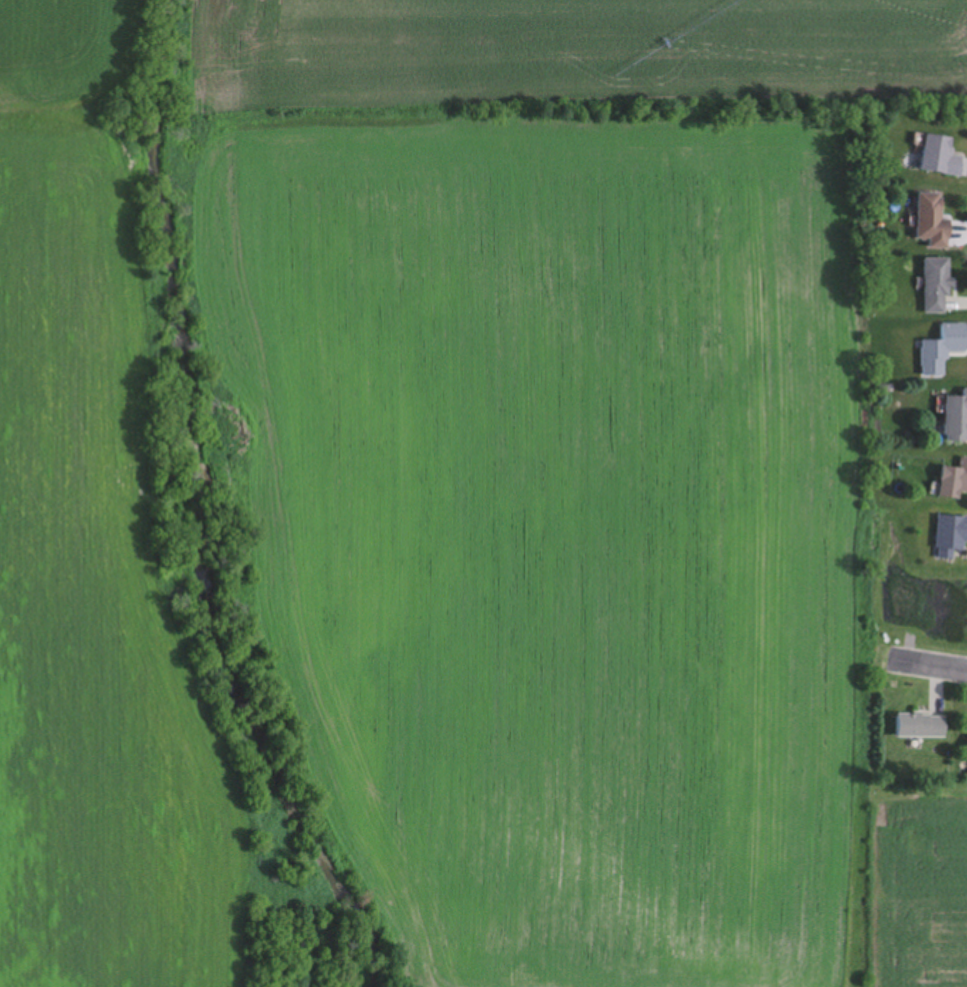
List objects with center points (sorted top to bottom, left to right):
building: (943, 156)
building: (935, 220)
building: (938, 284)
building: (957, 419)
crop: (581, 469)
building: (955, 482)
river: (218, 509)
park: (919, 611)
road: (929, 664)
building: (922, 726)

